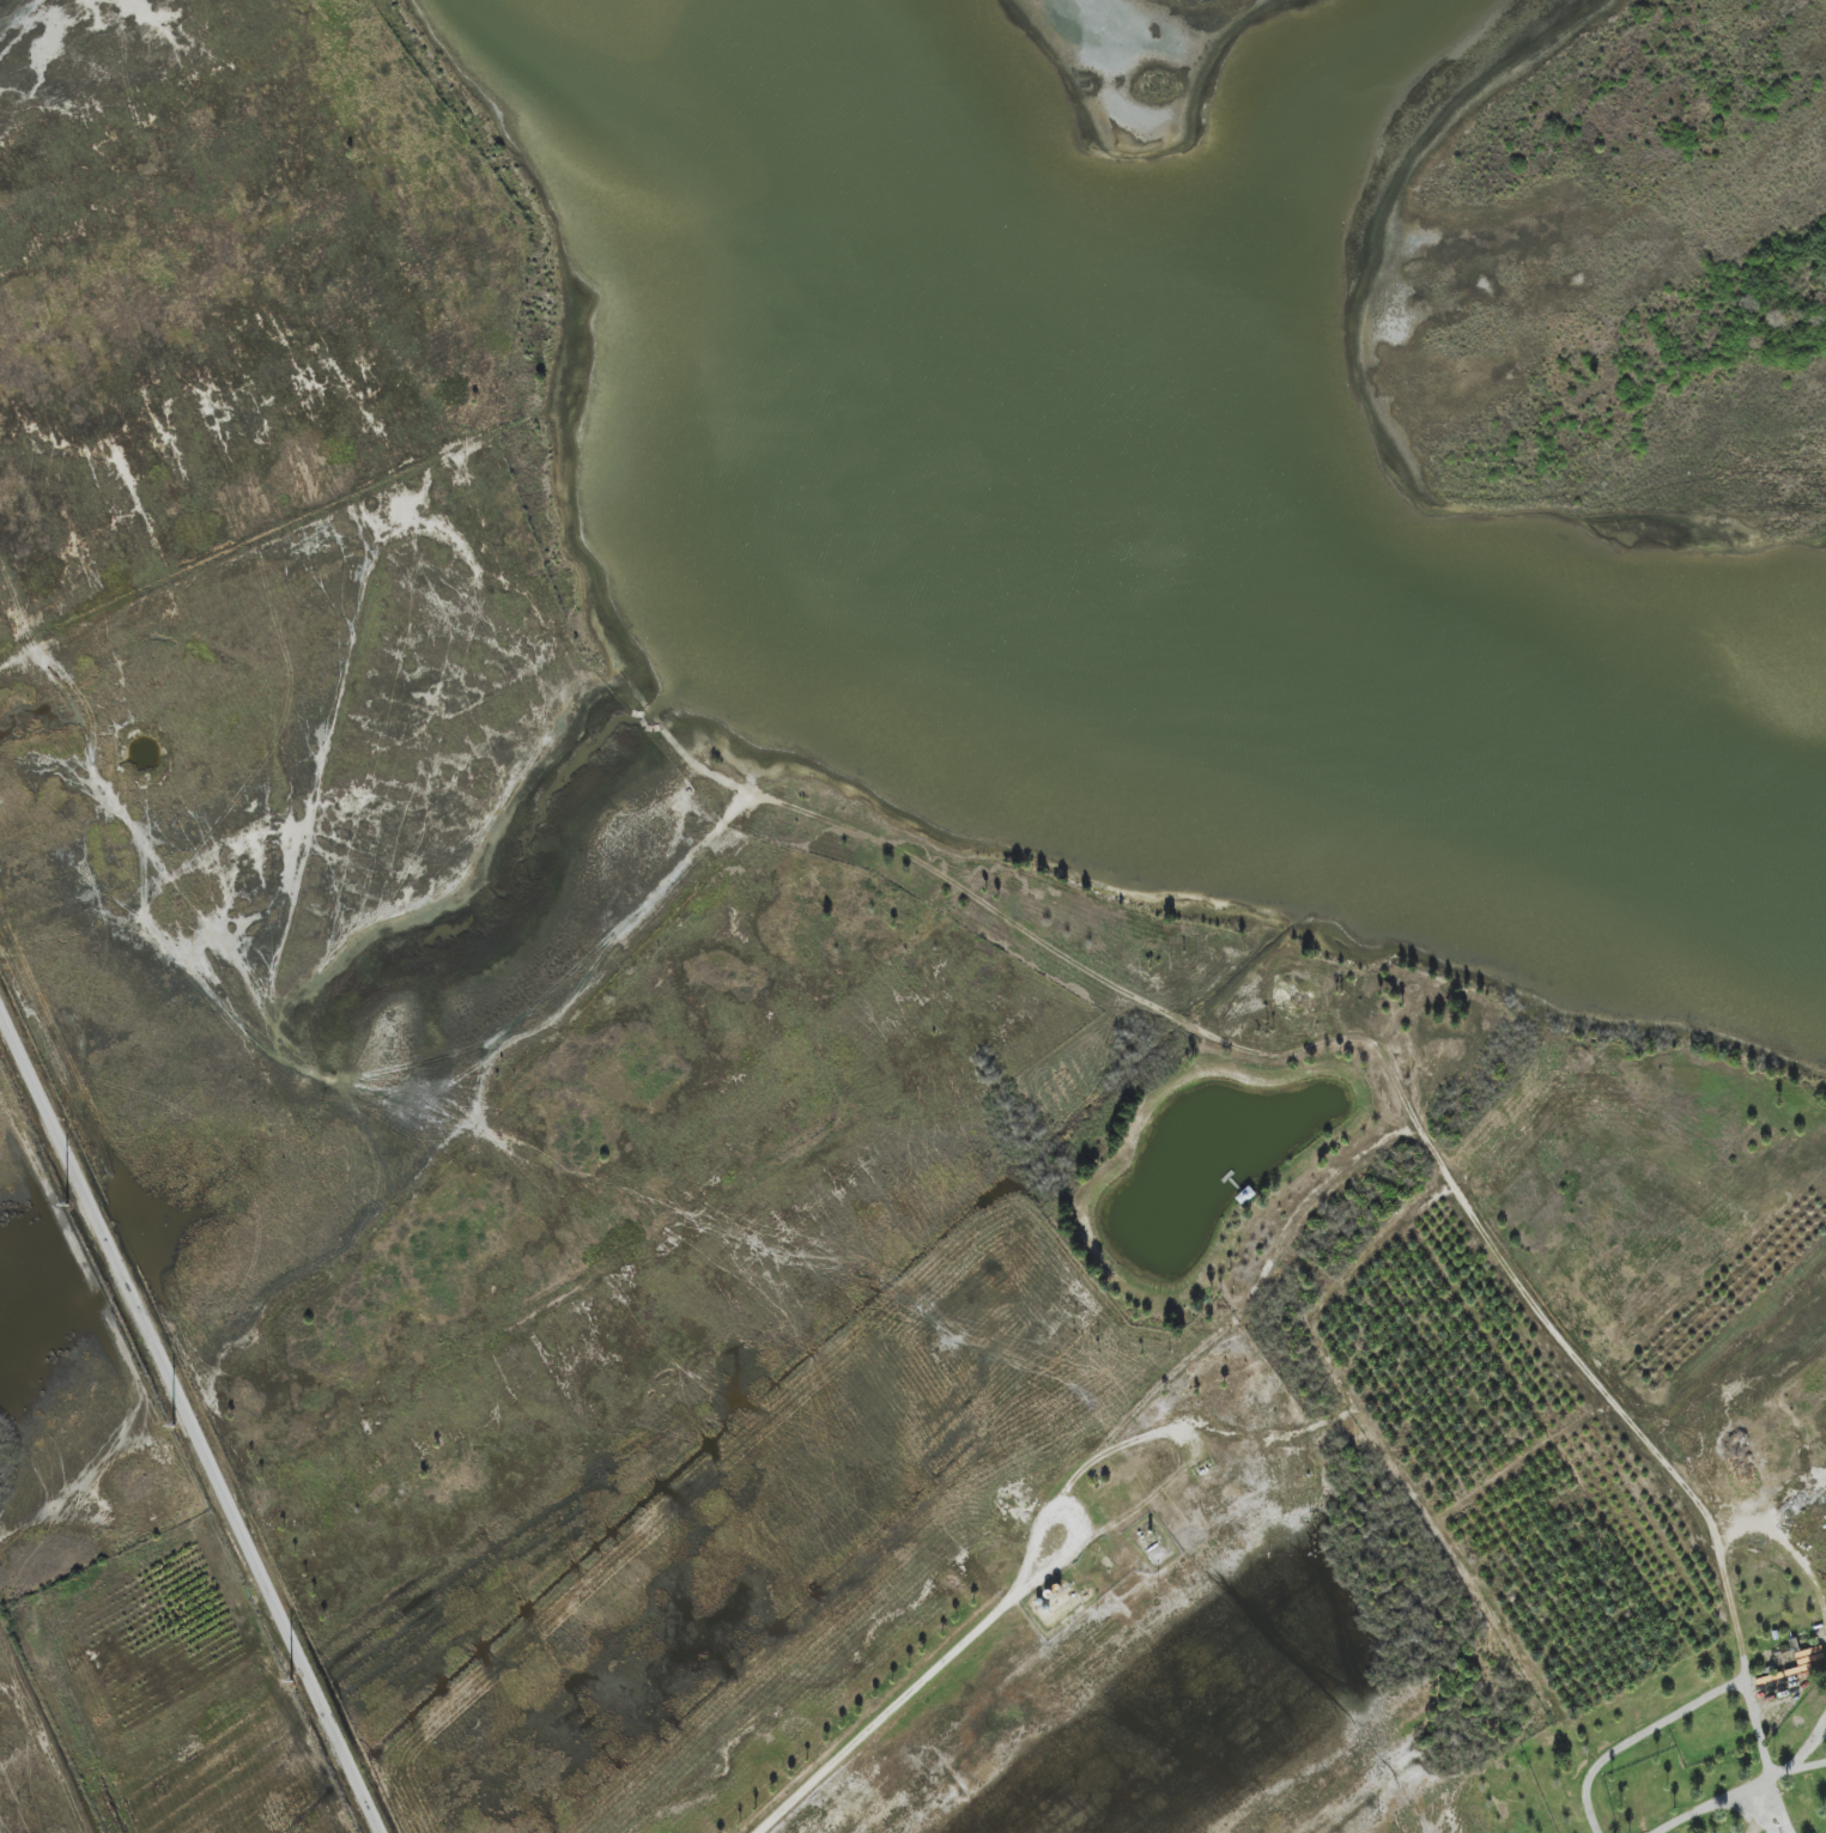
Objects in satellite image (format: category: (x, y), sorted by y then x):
road: (190, 1420)
road: (1104, 1451)
road: (1073, 1509)
road: (1736, 1697)
road: (886, 1713)
road: (1813, 1764)
road: (1813, 1776)
road: (1788, 1783)

